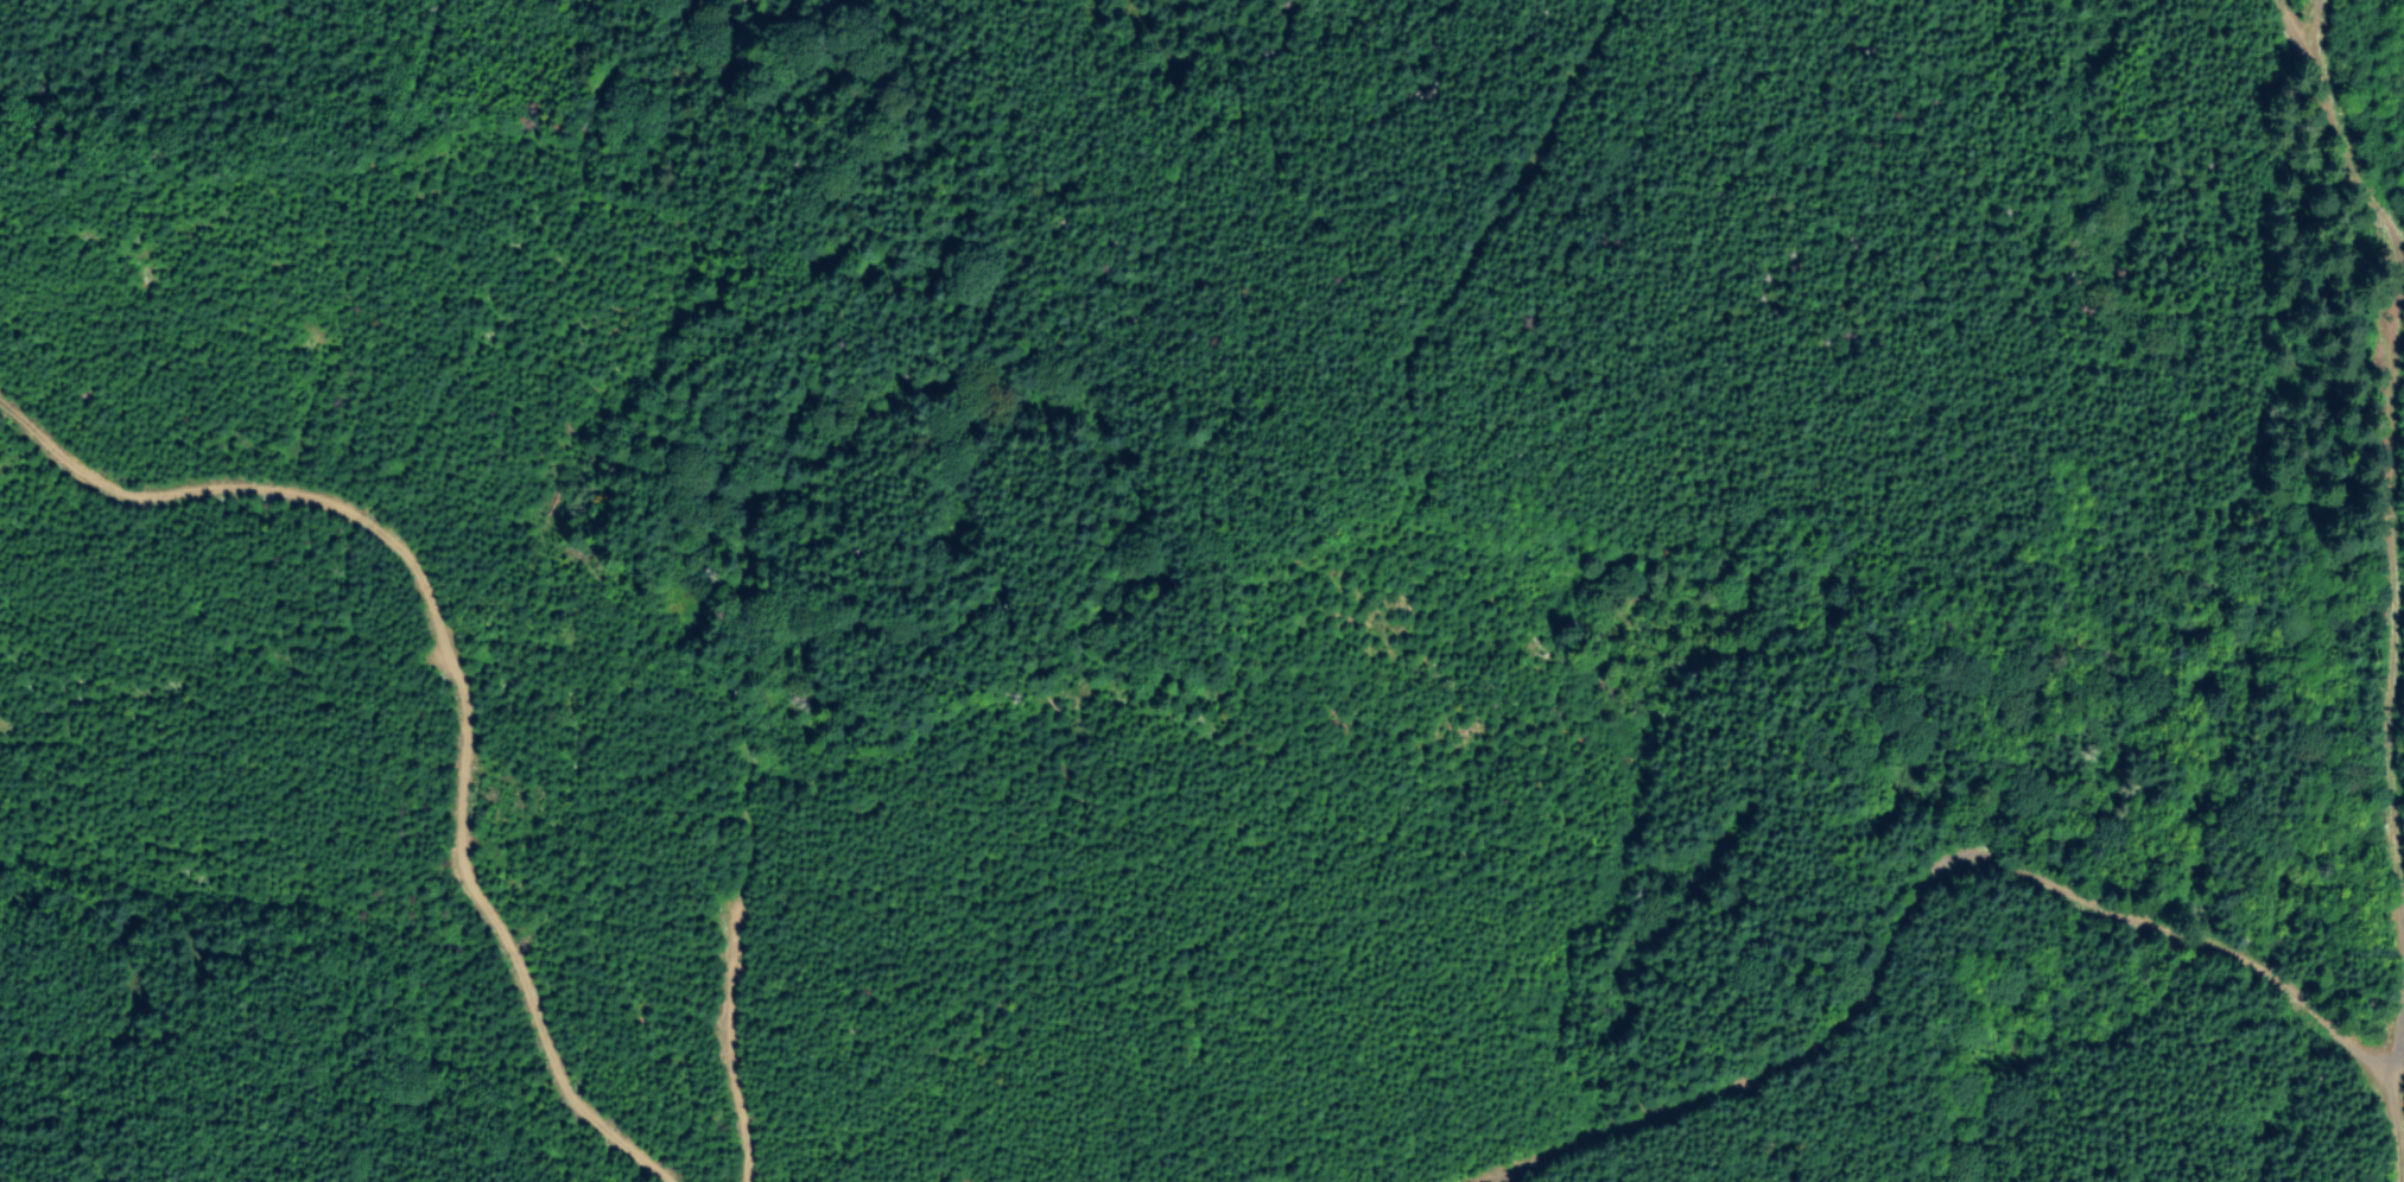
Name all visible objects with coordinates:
road: (2316, 375)

